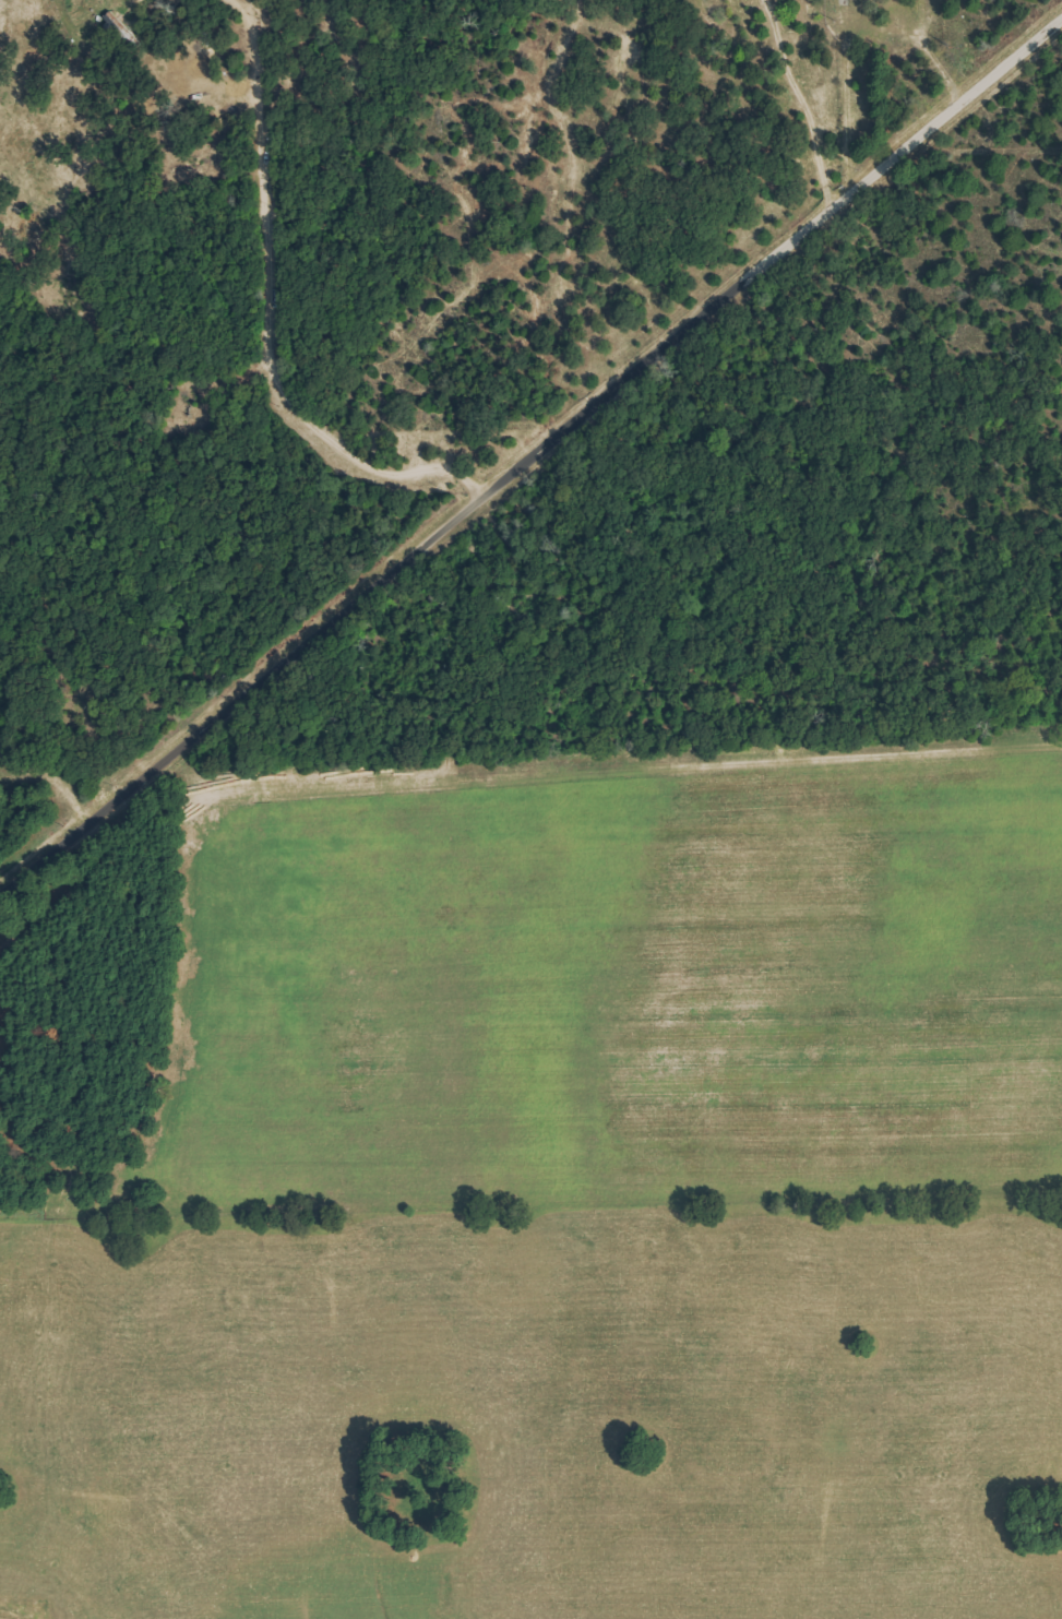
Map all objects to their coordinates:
road: (532, 454)

